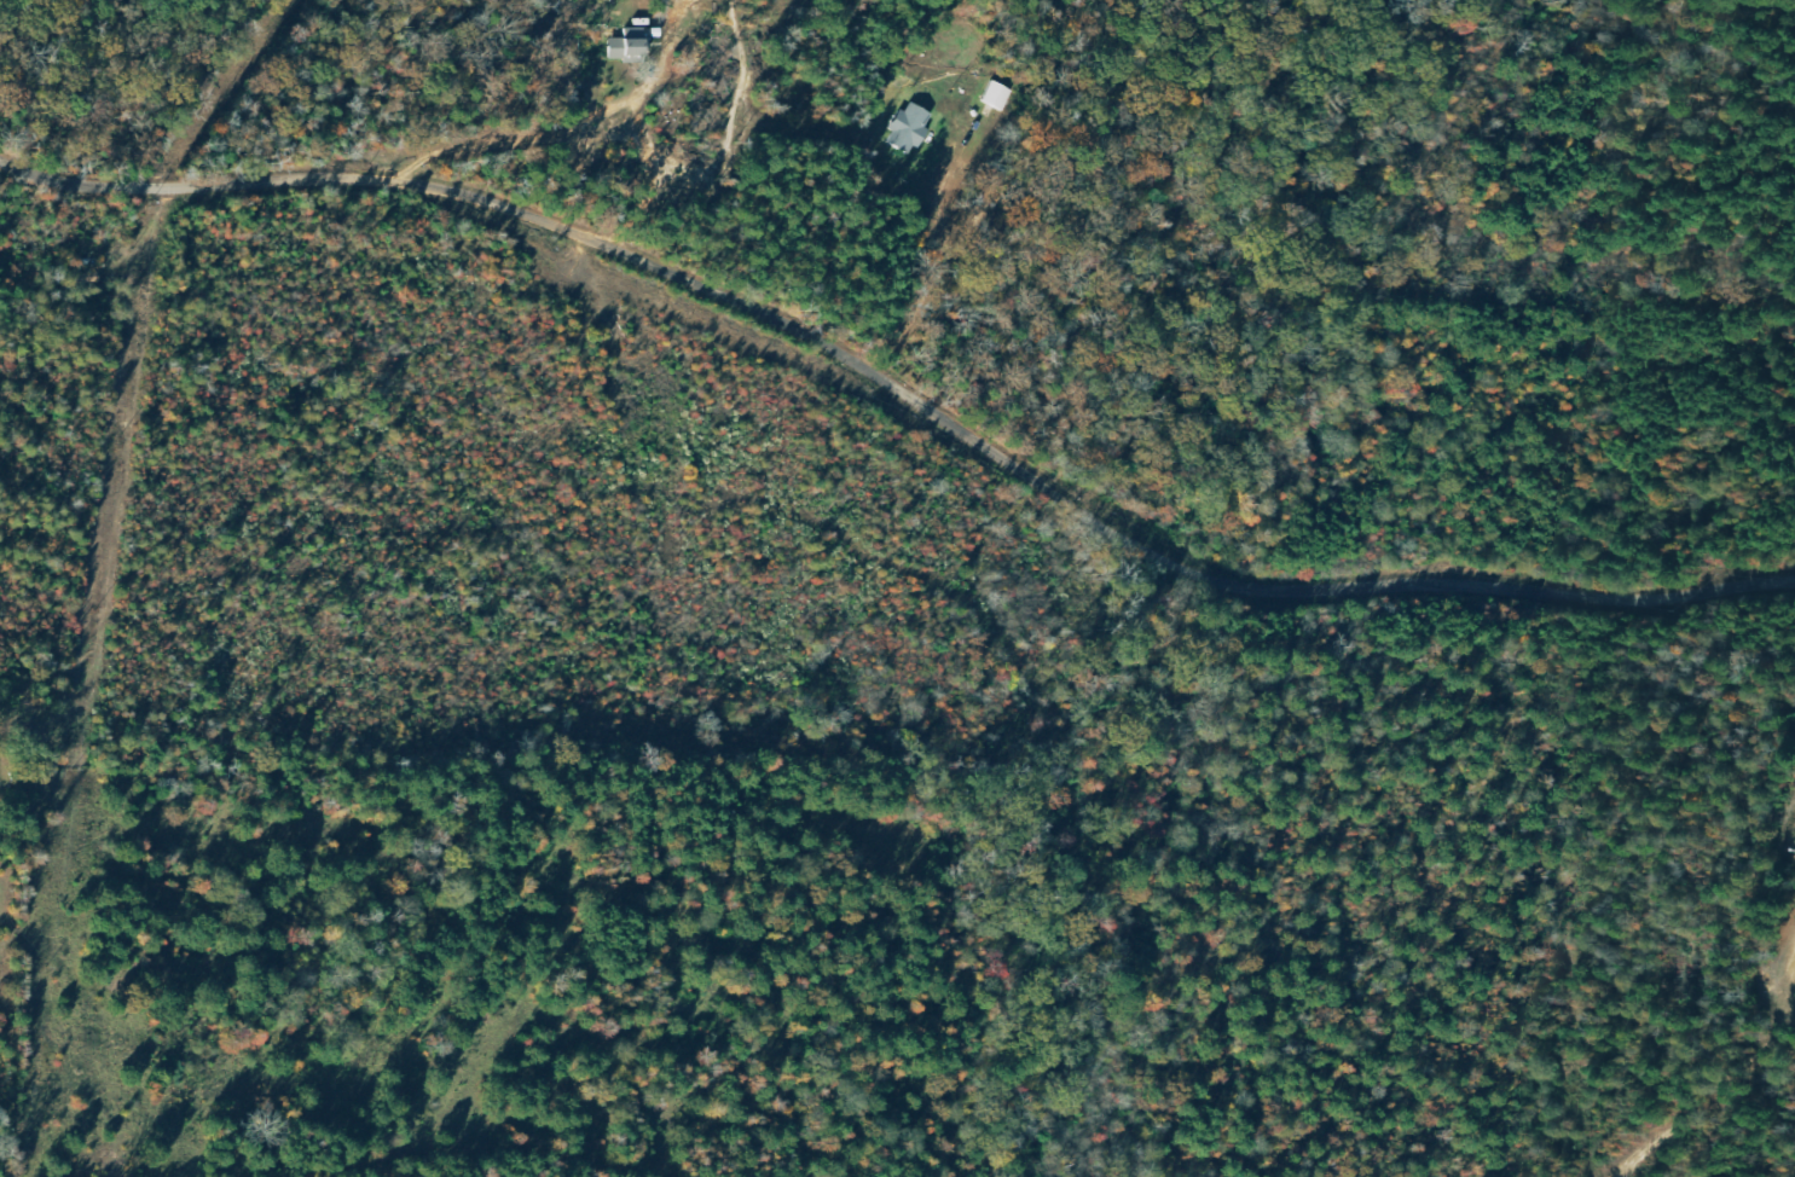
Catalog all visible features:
building: (632, 48)
building: (914, 127)
road: (903, 404)
road: (154, 628)
road: (473, 1117)

